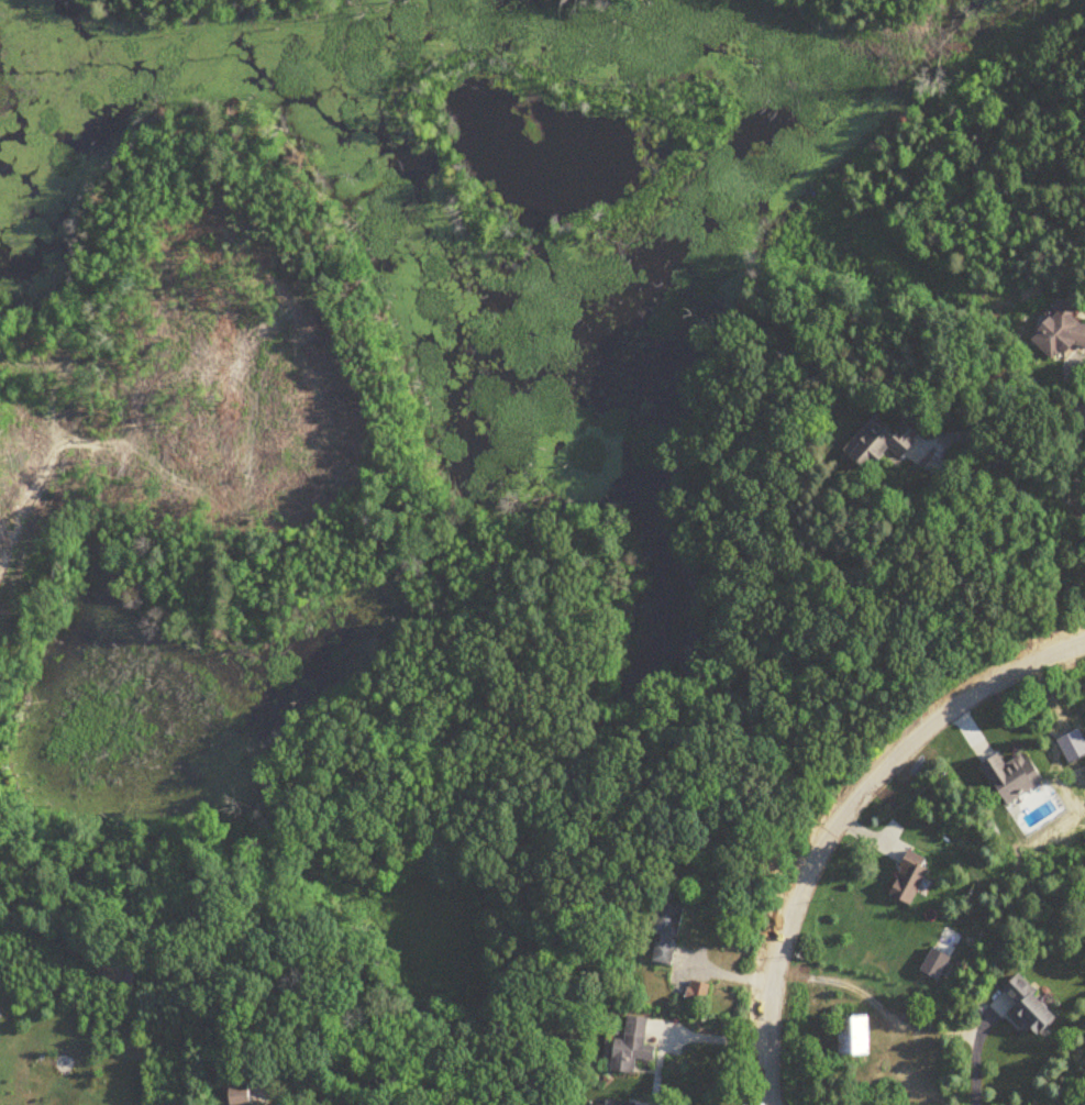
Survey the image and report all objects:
building: (1063, 332)
road: (968, 438)
building: (882, 443)
road: (1077, 485)
building: (1014, 777)
road: (843, 818)
building: (911, 879)
building: (666, 931)
building: (701, 992)
road: (876, 1004)
building: (1032, 1008)
building: (856, 1037)
road: (711, 1039)
building: (633, 1047)
road: (973, 1057)
building: (245, 1095)
road: (298, 1098)
building: (619, 1104)

